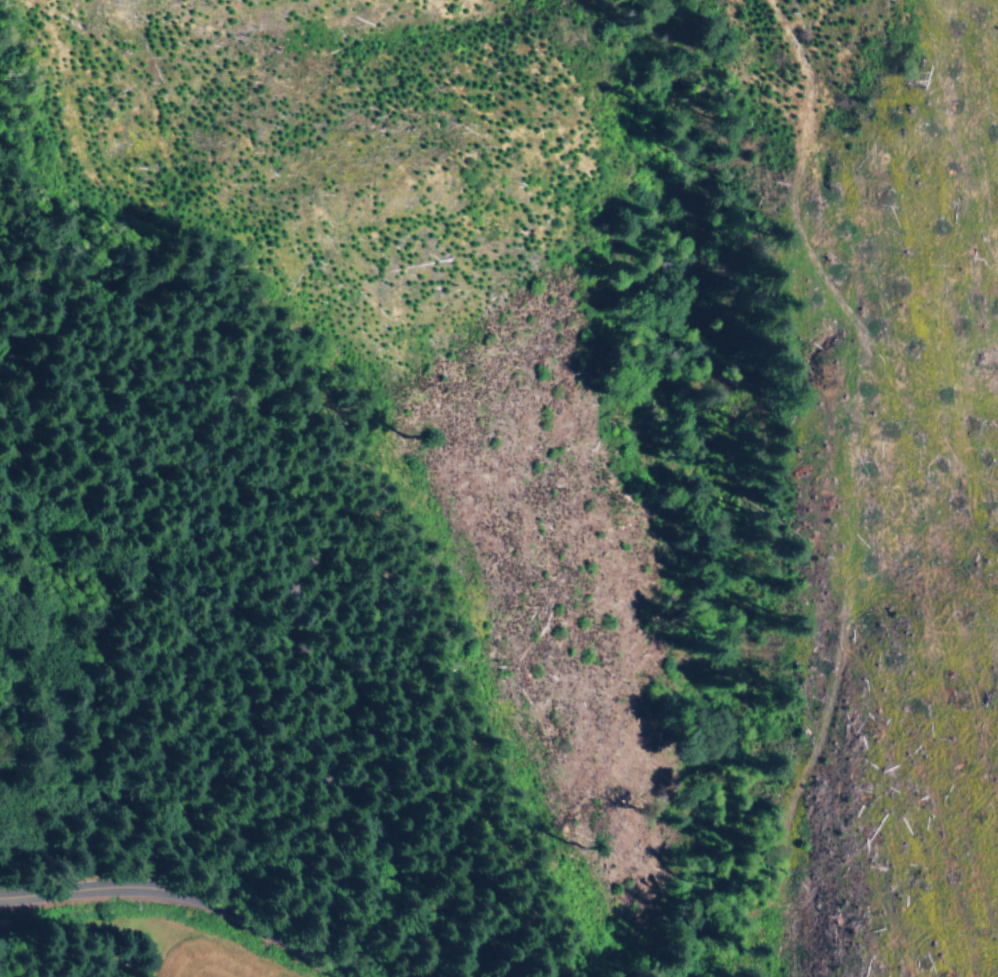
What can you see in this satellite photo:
road: (174, 902)

